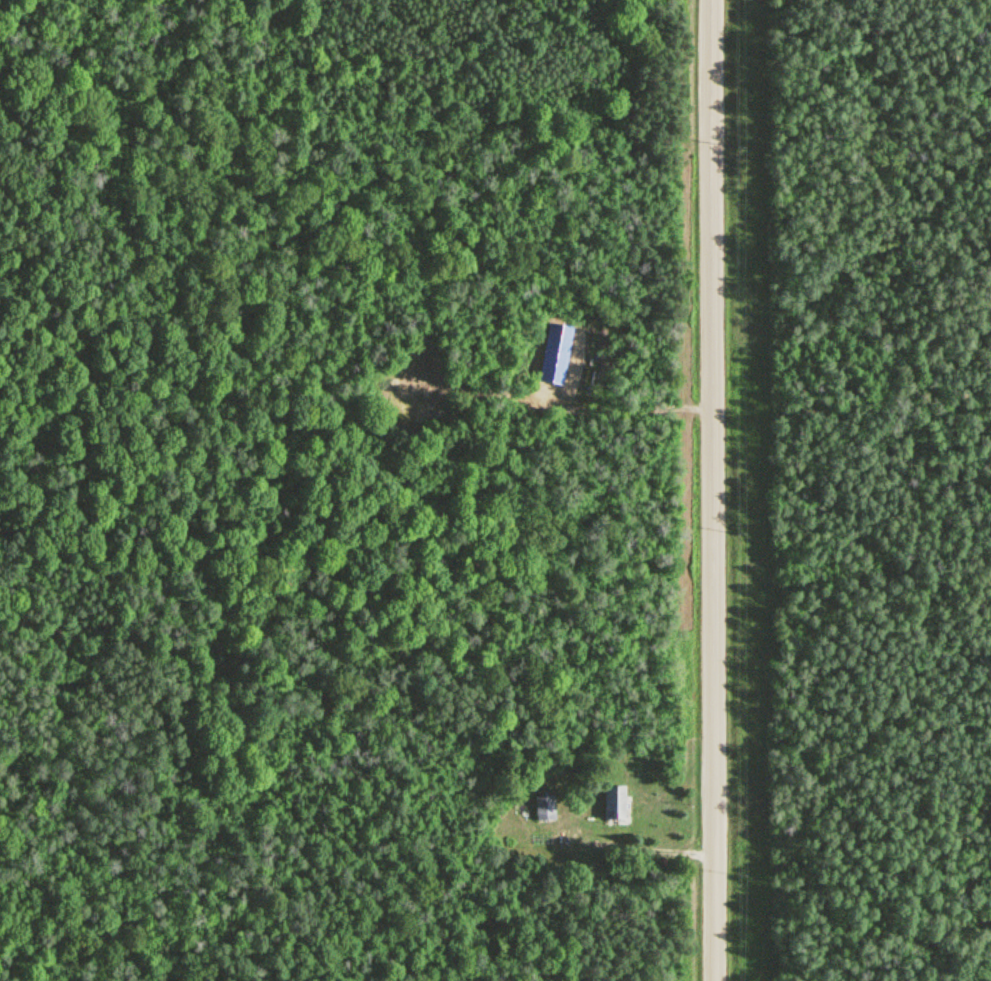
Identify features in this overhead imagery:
road: (716, 490)
building: (615, 803)
building: (545, 808)
road: (669, 852)

